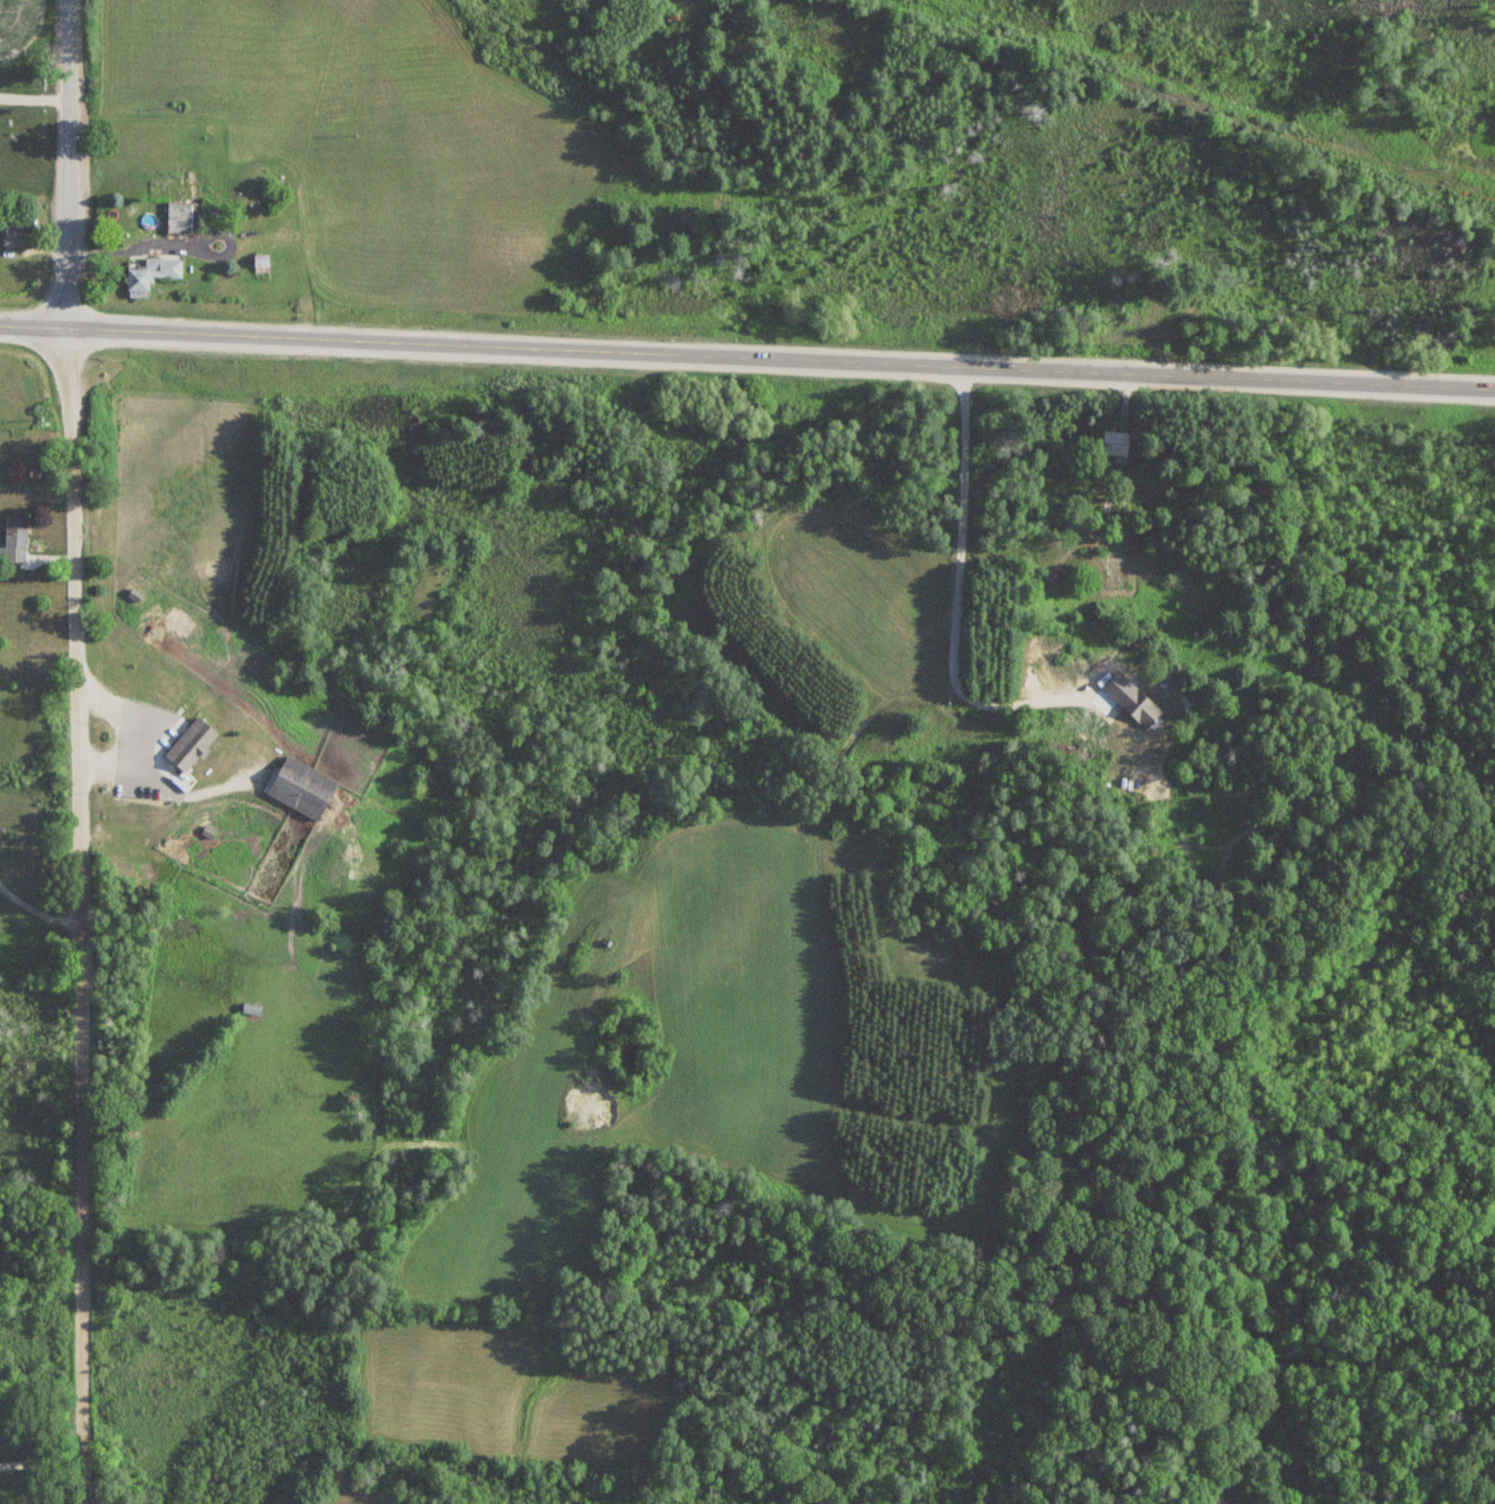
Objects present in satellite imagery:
road: (65, 164)
building: (181, 219)
building: (9, 234)
building: (260, 265)
building: (150, 276)
road: (32, 326)
road: (780, 358)
building: (1114, 444)
building: (17, 473)
building: (14, 539)
building: (1140, 709)
building: (190, 745)
building: (301, 789)
road: (74, 915)
building: (250, 1010)
road: (40, 1463)

